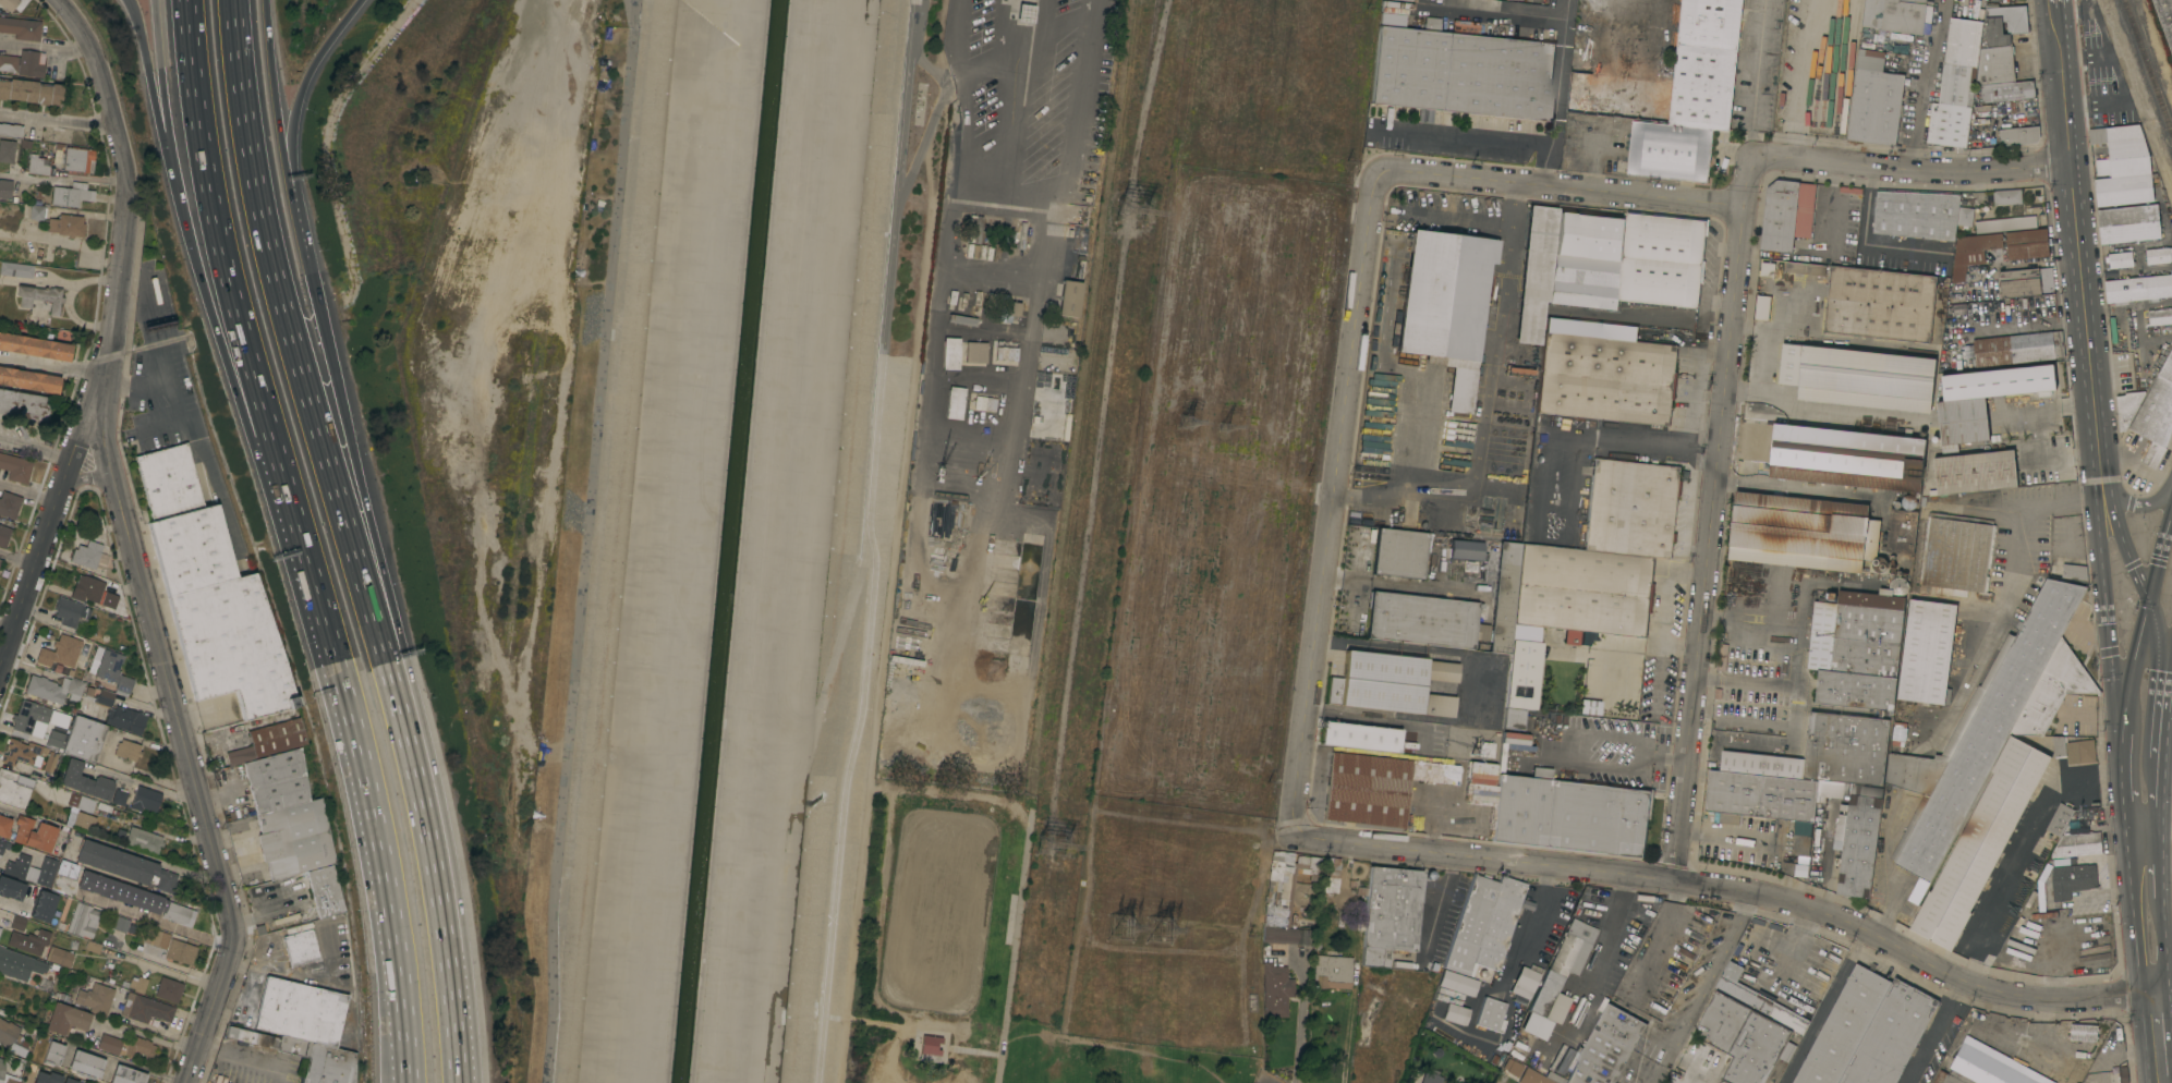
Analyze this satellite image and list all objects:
building: (3, 1)
road: (919, 11)
building: (1026, 13)
road: (1493, 13)
building: (1897, 14)
building: (2164, 19)
building: (2002, 25)
building: (21, 27)
road: (1647, 46)
road: (46, 47)
building: (32, 63)
building: (1995, 65)
road: (929, 66)
railway: (2147, 66)
building: (1460, 70)
road: (148, 77)
road: (160, 77)
road: (1756, 77)
road: (1800, 80)
road: (1924, 83)
parking lot: (1012, 84)
building: (1956, 84)
railway: (2141, 84)
building: (2005, 90)
building: (31, 92)
road: (1003, 94)
building: (1692, 95)
building: (1617, 96)
road: (295, 101)
building: (1874, 101)
road: (276, 111)
building: (1980, 114)
road: (58, 120)
road: (966, 122)
building: (10, 130)
road: (926, 131)
building: (2018, 135)
road: (1537, 148)
building: (7, 150)
building: (78, 159)
building: (38, 166)
building: (2122, 166)
road: (1912, 168)
road: (1548, 171)
road: (62, 178)
road: (1056, 183)
building: (5, 188)
road: (1561, 193)
building: (71, 194)
building: (2007, 197)
power tower: (1141, 210)
building: (36, 211)
building: (1786, 214)
building: (1916, 214)
building: (1965, 216)
road: (1457, 220)
building: (2128, 223)
building: (65, 224)
building: (2004, 224)
building: (970, 228)
road: (2075, 228)
building: (978, 229)
building: (1021, 235)
road: (303, 239)
building: (2027, 244)
road: (1862, 245)
building: (1973, 253)
building: (2159, 255)
building: (2121, 259)
building: (1626, 260)
road: (229, 266)
building: (15, 269)
building: (1767, 269)
building: (1807, 269)
building: (1536, 272)
road: (35, 281)
building: (2026, 282)
building: (2138, 289)
building: (40, 296)
building: (1069, 297)
road: (68, 299)
building: (1880, 304)
building: (1446, 305)
building: (1762, 307)
building: (1009, 311)
road: (1640, 317)
building: (2160, 317)
building: (962, 319)
building: (35, 346)
road: (220, 346)
building: (2004, 350)
building: (975, 352)
building: (949, 353)
building: (1004, 353)
road: (51, 365)
road: (301, 367)
building: (1606, 378)
building: (1861, 379)
building: (28, 380)
road: (1487, 402)
building: (954, 403)
building: (984, 403)
building: (23, 404)
building: (2127, 407)
building: (2156, 413)
building: (2053, 417)
power tower: (1189, 421)
building: (1963, 421)
power tower: (1231, 430)
road: (190, 431)
road: (35, 451)
building: (1834, 455)
building: (15, 467)
building: (1977, 472)
road: (85, 476)
road: (363, 490)
road: (27, 492)
road: (1569, 500)
building: (1908, 502)
road: (2138, 502)
building: (9, 504)
road: (1337, 508)
building: (1631, 508)
building: (1470, 515)
building: (1497, 515)
road: (1713, 516)
road: (2118, 528)
road: (45, 531)
building: (1902, 532)
building: (1803, 533)
building: (4, 535)
road: (129, 540)
road: (896, 540)
river: (728, 541)
road: (870, 541)
building: (1956, 551)
building: (1402, 552)
road: (1359, 553)
building: (89, 555)
building: (1464, 555)
building: (0, 559)
road: (16, 559)
building: (2066, 570)
road: (1343, 579)
road: (1363, 581)
road: (1424, 587)
building: (1582, 591)
building: (92, 592)
building: (210, 592)
road: (2004, 598)
road: (2102, 600)
road: (1354, 603)
road: (2146, 605)
building: (70, 611)
building: (1448, 613)
building: (2018, 624)
road: (5, 625)
building: (2011, 630)
building: (1961, 644)
building: (1856, 649)
building: (63, 652)
building: (1926, 653)
road: (1436, 654)
building: (113, 670)
building: (1522, 674)
road: (2160, 679)
building: (1386, 680)
road: (1746, 681)
road: (1795, 683)
building: (53, 689)
building: (89, 691)
building: (105, 697)
building: (1439, 705)
building: (1589, 707)
building: (90, 710)
building: (1855, 711)
building: (1618, 713)
road: (2088, 716)
building: (28, 717)
road: (2168, 717)
building: (1513, 718)
building: (125, 719)
building: (1965, 719)
building: (1544, 720)
building: (2001, 722)
road: (2122, 725)
building: (1554, 732)
building: (1359, 737)
building: (54, 739)
building: (84, 739)
building: (262, 740)
building: (1510, 742)
building: (1846, 749)
building: (128, 750)
building: (1485, 750)
building: (2074, 750)
building: (21, 752)
road: (1625, 755)
building: (50, 762)
road: (136, 775)
building: (84, 780)
building: (277, 780)
building: (14, 788)
building: (1367, 789)
building: (1821, 790)
road: (2163, 790)
building: (1480, 792)
building: (1761, 794)
building: (119, 795)
road: (367, 796)
building: (145, 799)
road: (221, 799)
building: (80, 812)
building: (1568, 814)
road: (2168, 818)
building: (2060, 819)
road: (2143, 819)
road: (45, 820)
building: (4, 826)
building: (1909, 827)
building: (34, 833)
road: (234, 836)
building: (294, 839)
building: (1858, 839)
building: (143, 840)
building: (1980, 843)
building: (2078, 844)
building: (3, 845)
power tower: (1066, 847)
road: (137, 854)
building: (2064, 861)
building: (116, 862)
road: (2017, 863)
building: (16, 865)
road: (2162, 867)
building: (46, 872)
road: (2127, 873)
building: (31, 874)
building: (1331, 877)
building: (2072, 879)
building: (11, 888)
road: (1735, 888)
building: (2041, 888)
building: (270, 889)
building: (325, 890)
building: (1361, 891)
building: (1284, 901)
road: (440, 903)
building: (43, 905)
road: (1894, 906)
road: (1436, 910)
building: (1391, 913)
road: (23, 914)
building: (178, 916)
road: (259, 916)
building: (149, 917)
building: (83, 920)
building: (17, 923)
building: (1483, 924)
road: (1529, 924)
building: (119, 925)
power tower: (1124, 927)
building: (0, 928)
power tower: (1175, 934)
building: (156, 937)
road: (1014, 940)
building: (28, 941)
building: (301, 948)
building: (180, 951)
building: (59, 956)
road: (2164, 956)
park: (969, 959)
building: (14, 963)
building: (1332, 972)
road: (161, 973)
road: (290, 973)
road: (255, 976)
building: (1527, 978)
building: (1558, 978)
building: (136, 984)
building: (1459, 984)
road: (1700, 986)
building: (168, 989)
building: (1576, 989)
building: (1520, 990)
building: (1275, 991)
building: (95, 998)
building: (1757, 998)
road: (1827, 1006)
building: (145, 1008)
building: (302, 1011)
building: (1454, 1014)
building: (1491, 1014)
building: (65, 1019)
road: (1348, 1019)
building: (1843, 1026)
road: (1937, 1031)
building: (2084, 1033)
building: (1890, 1036)
road: (2157, 1036)
building: (12, 1037)
road: (144, 1037)
building: (1744, 1039)
building: (109, 1044)
building: (930, 1045)
building: (138, 1046)
road: (2164, 1046)
building: (1606, 1047)
road: (972, 1050)
building: (52, 1054)
road: (240, 1056)
building: (306, 1056)
building: (85, 1064)
building: (1990, 1064)
building: (1512, 1067)
building: (1, 1069)
building: (13, 1074)
building: (2123, 1074)
building: (126, 1075)
road: (405, 1076)
road: (407, 1076)
building: (1555, 1076)
building: (47, 1078)
building: (1533, 1078)
building: (1951, 1078)
building: (220, 1079)
building: (1430, 1079)
building: (69, 1080)
road: (2161, 1080)

